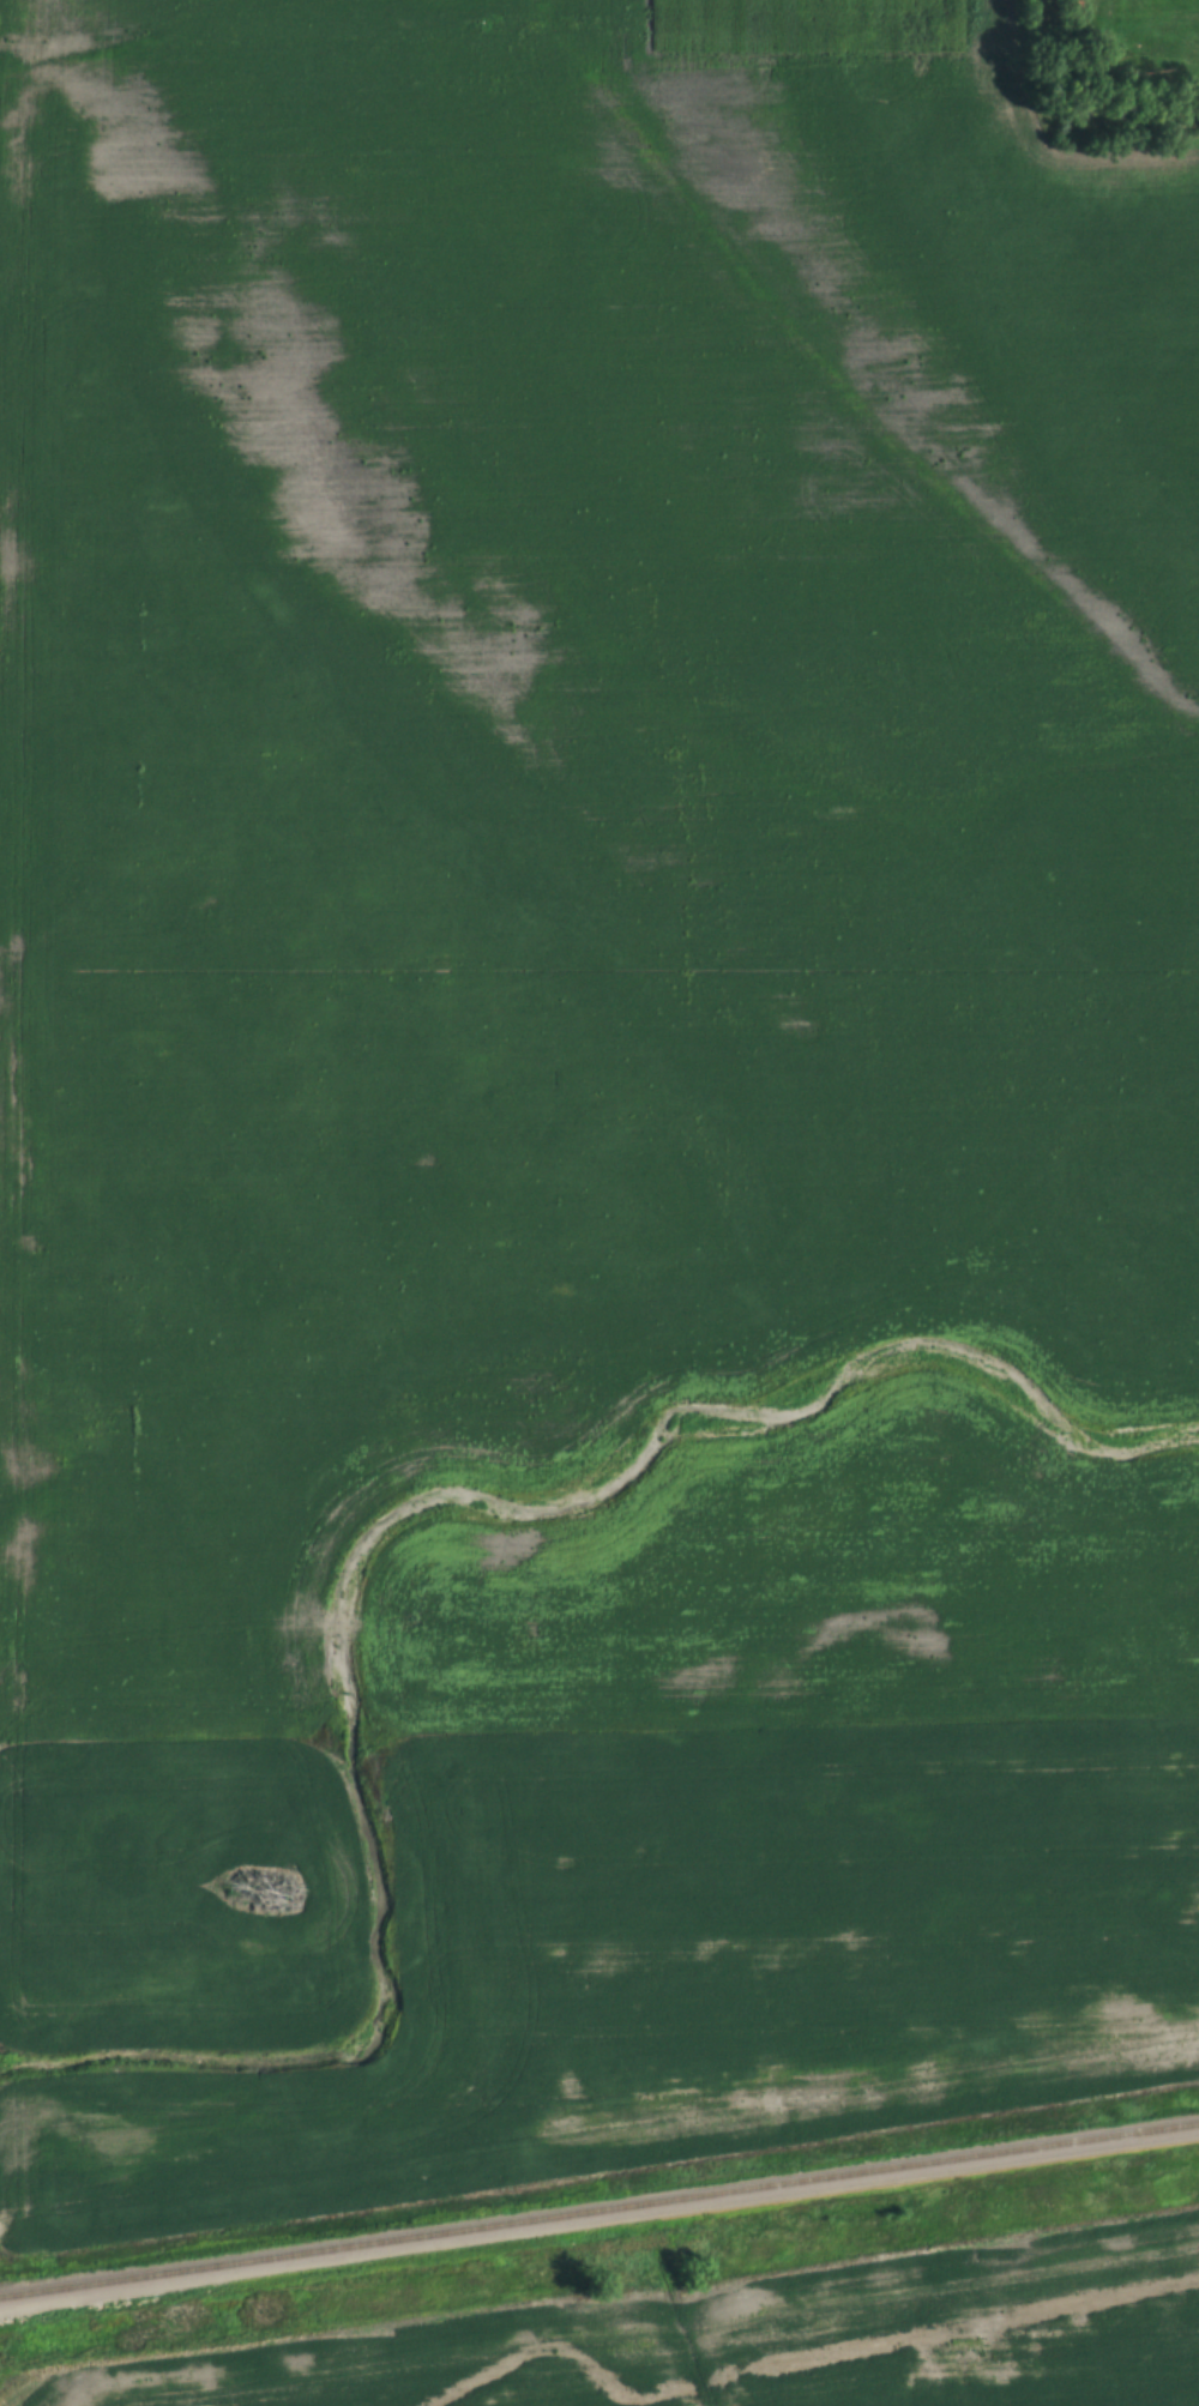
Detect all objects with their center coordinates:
railway: (599, 2209)

